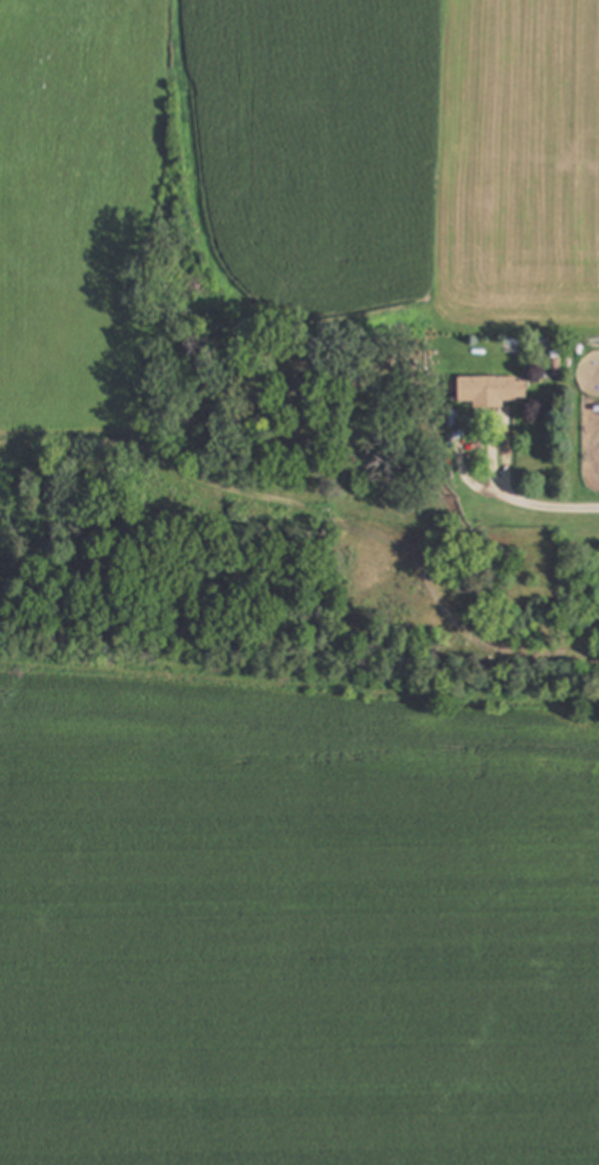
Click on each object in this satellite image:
building: (491, 393)
road: (518, 504)

